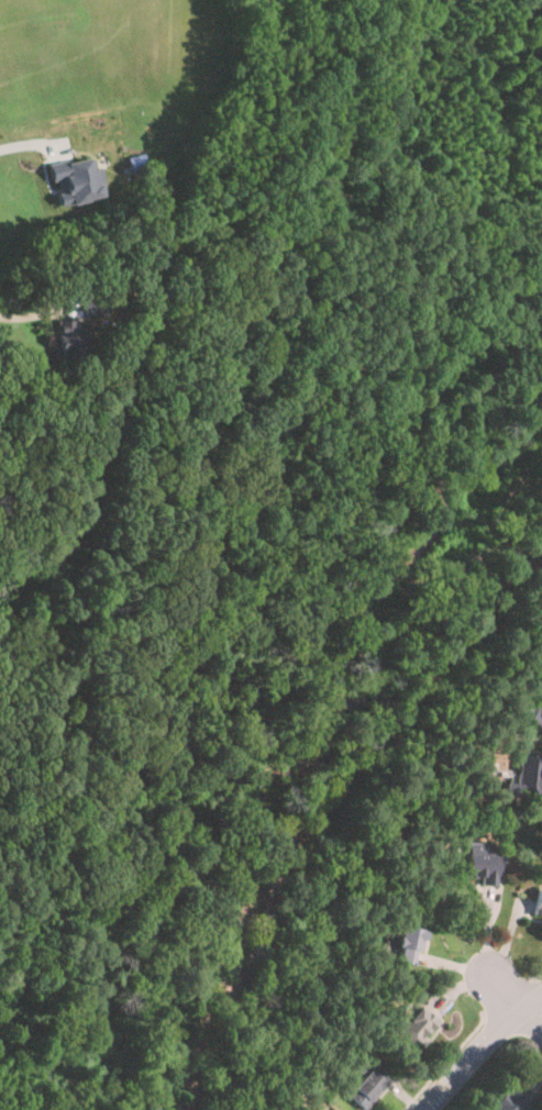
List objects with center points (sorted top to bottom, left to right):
road: (27, 140)
building: (76, 178)
building: (96, 303)
road: (27, 317)
building: (69, 340)
road: (518, 547)
road: (458, 566)
building: (530, 711)
building: (527, 778)
road: (297, 834)
building: (479, 863)
building: (539, 903)
building: (408, 945)
road: (537, 977)
road: (537, 990)
road: (501, 991)
road: (508, 999)
road: (530, 1022)
building: (414, 1029)
road: (479, 1046)
road: (446, 1062)
building: (366, 1088)
building: (507, 1099)

